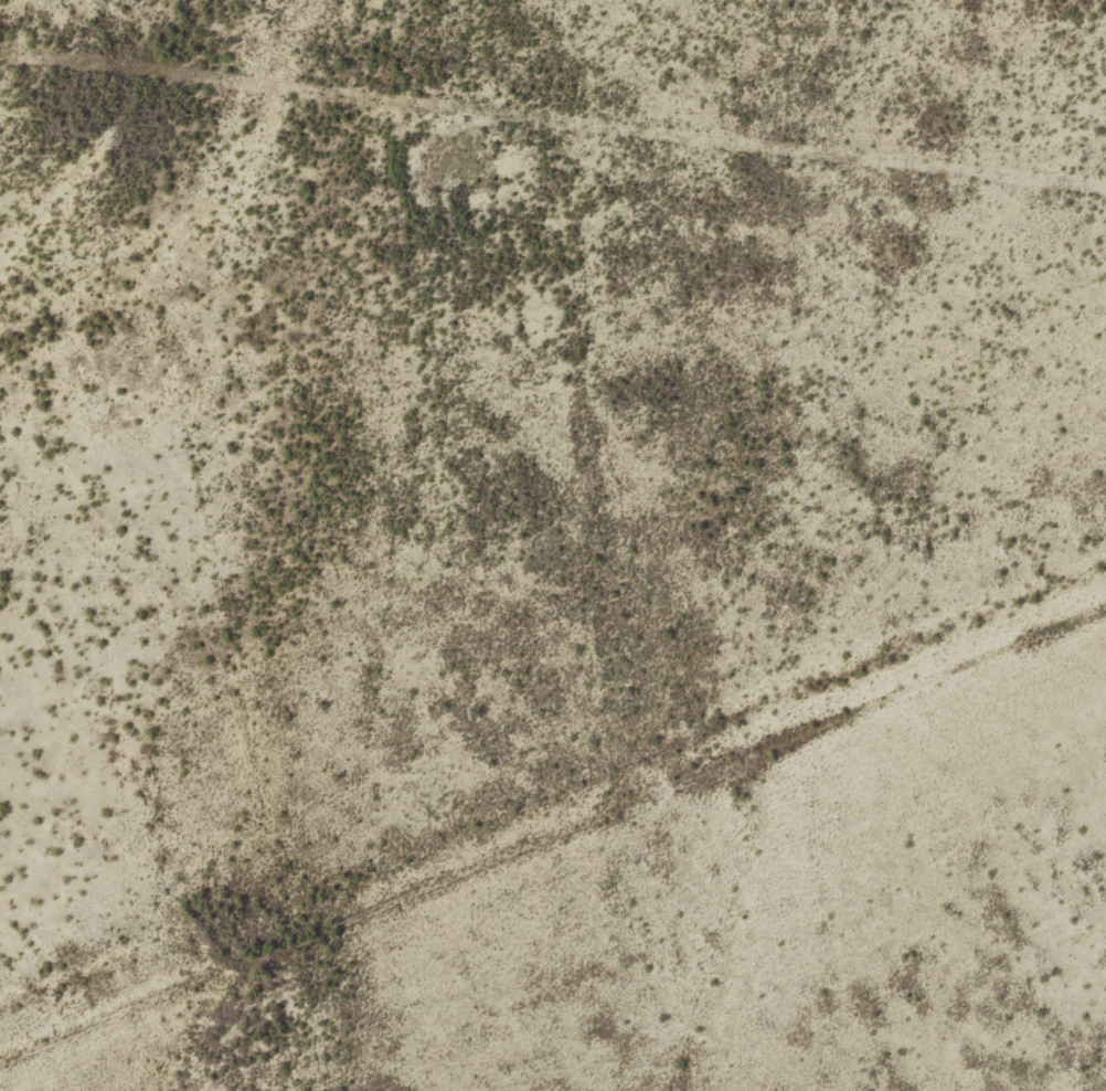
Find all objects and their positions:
road: (556, 838)

